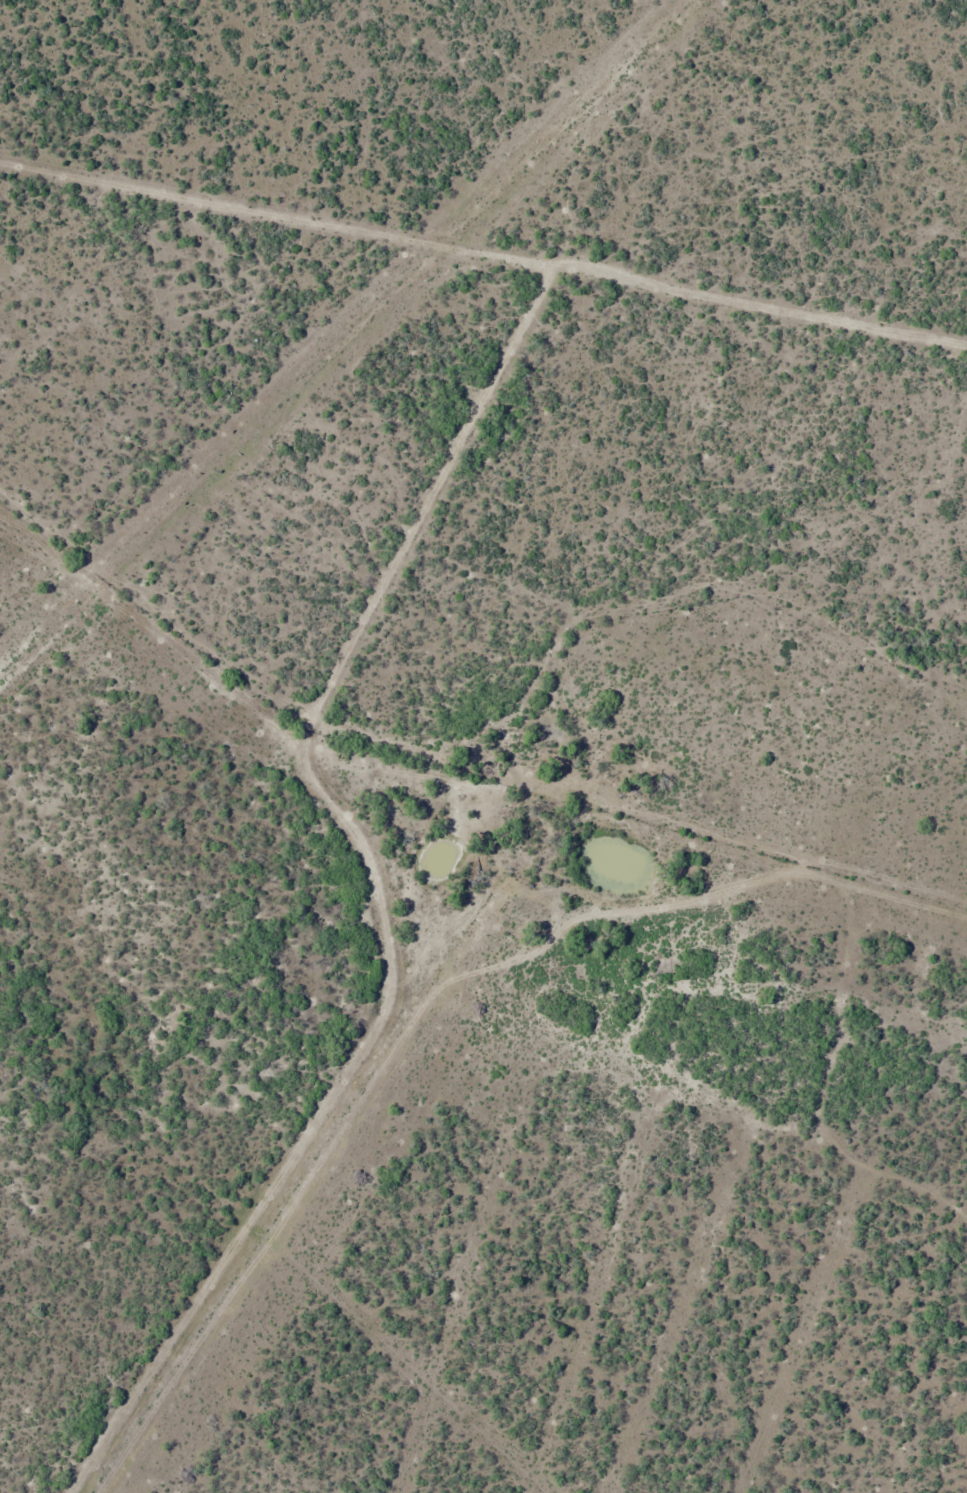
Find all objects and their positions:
road: (432, 780)

